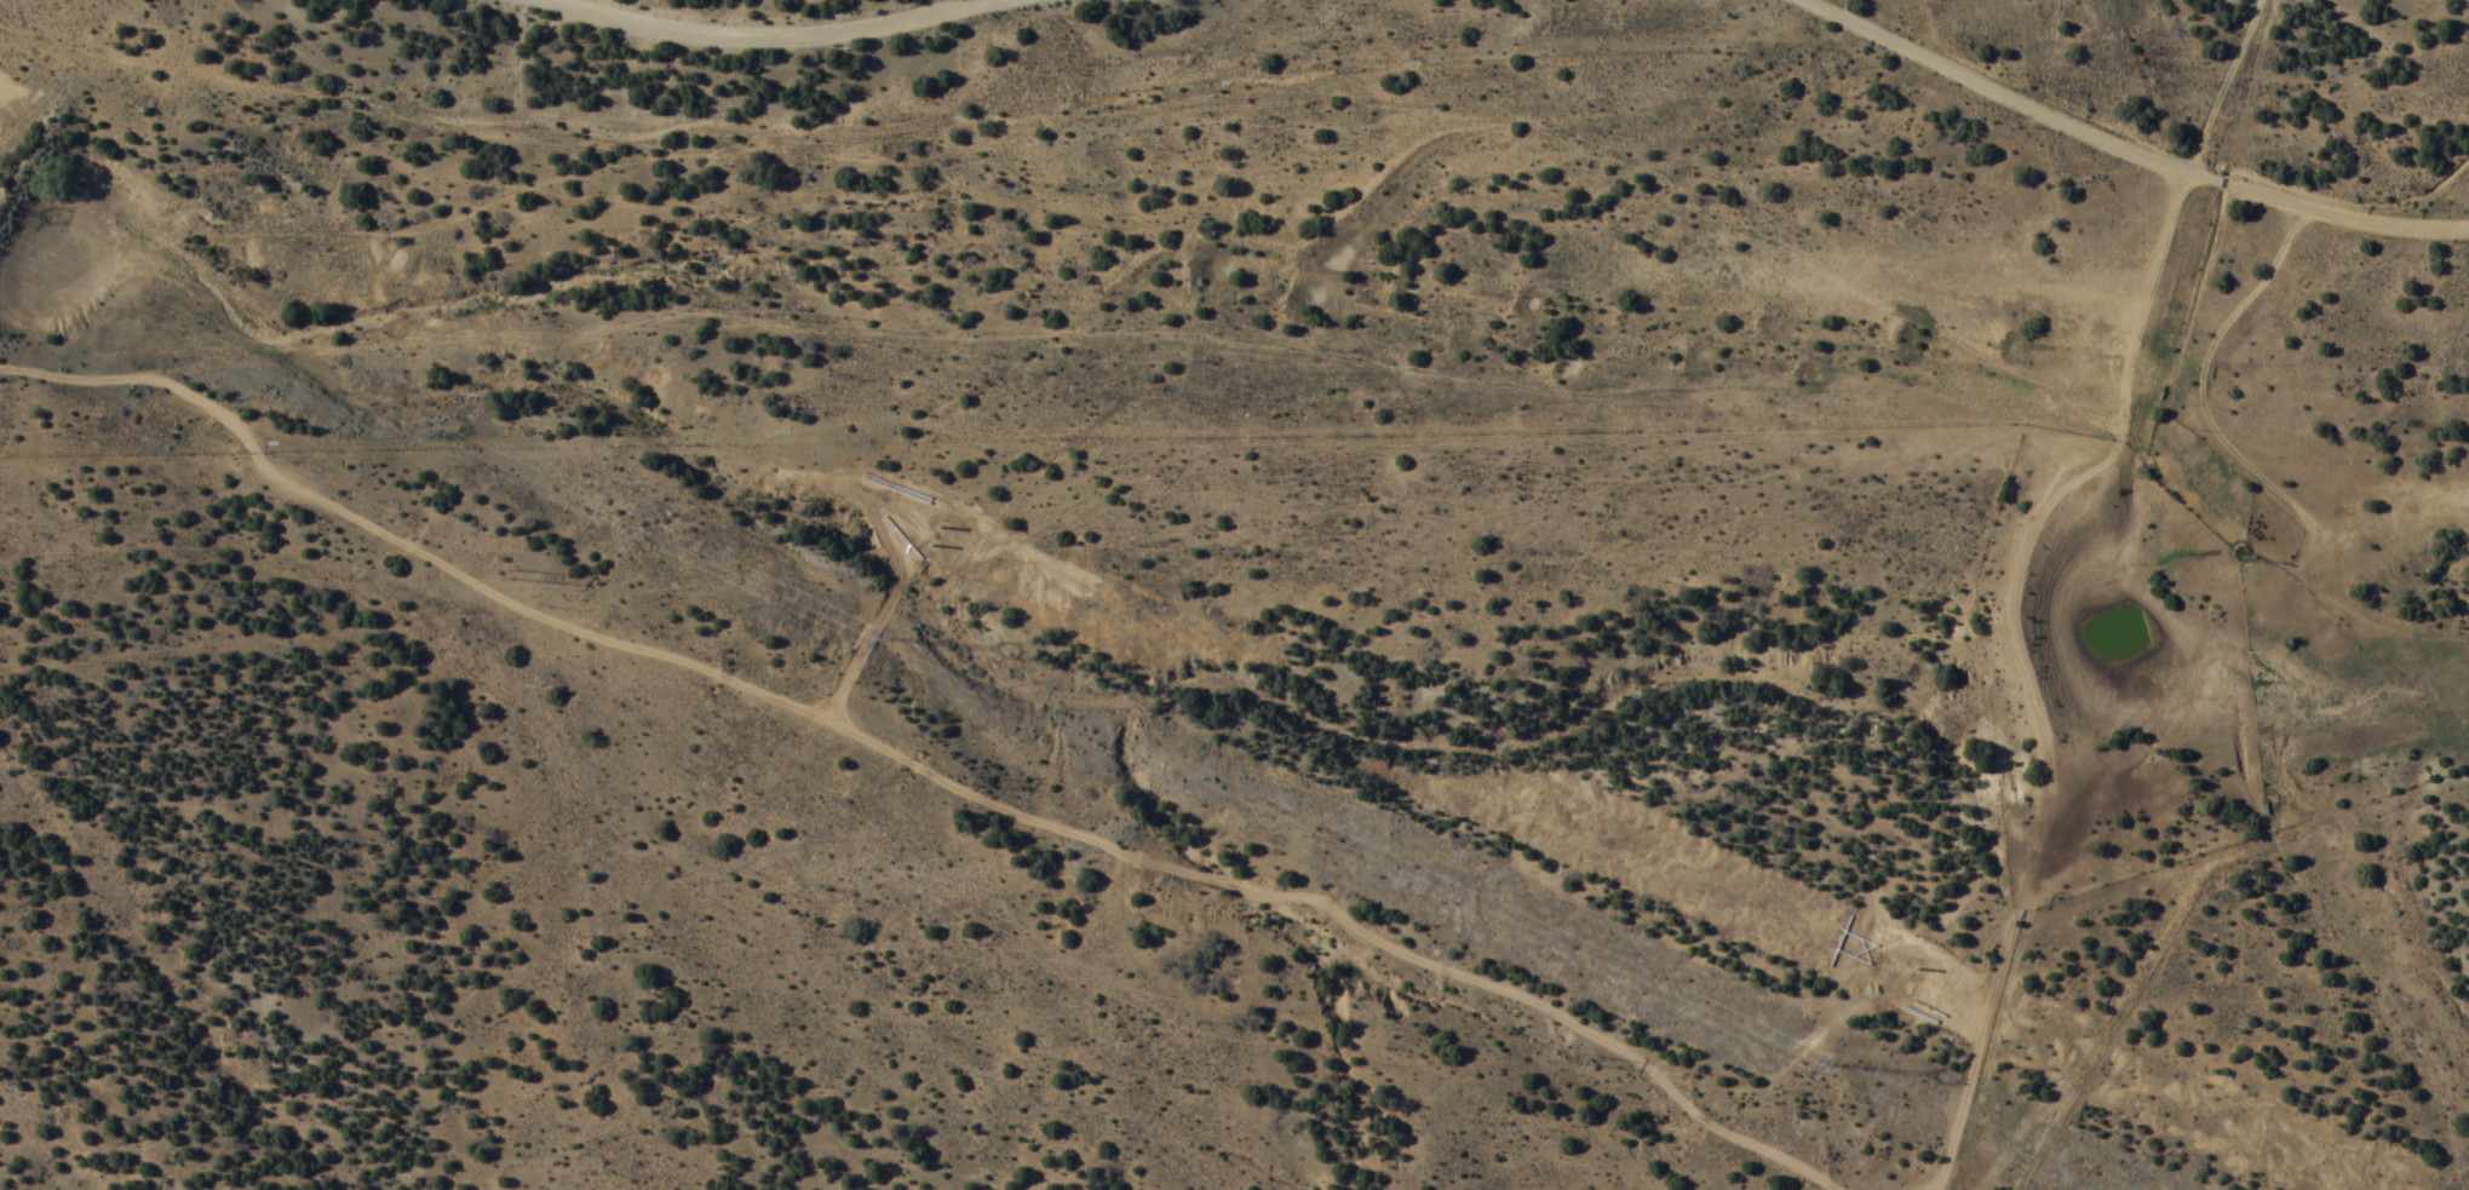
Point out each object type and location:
road: (769, 30)
road: (2132, 145)
power tower: (890, 637)
road: (2033, 667)
road: (2005, 862)
power tower: (1834, 1063)

